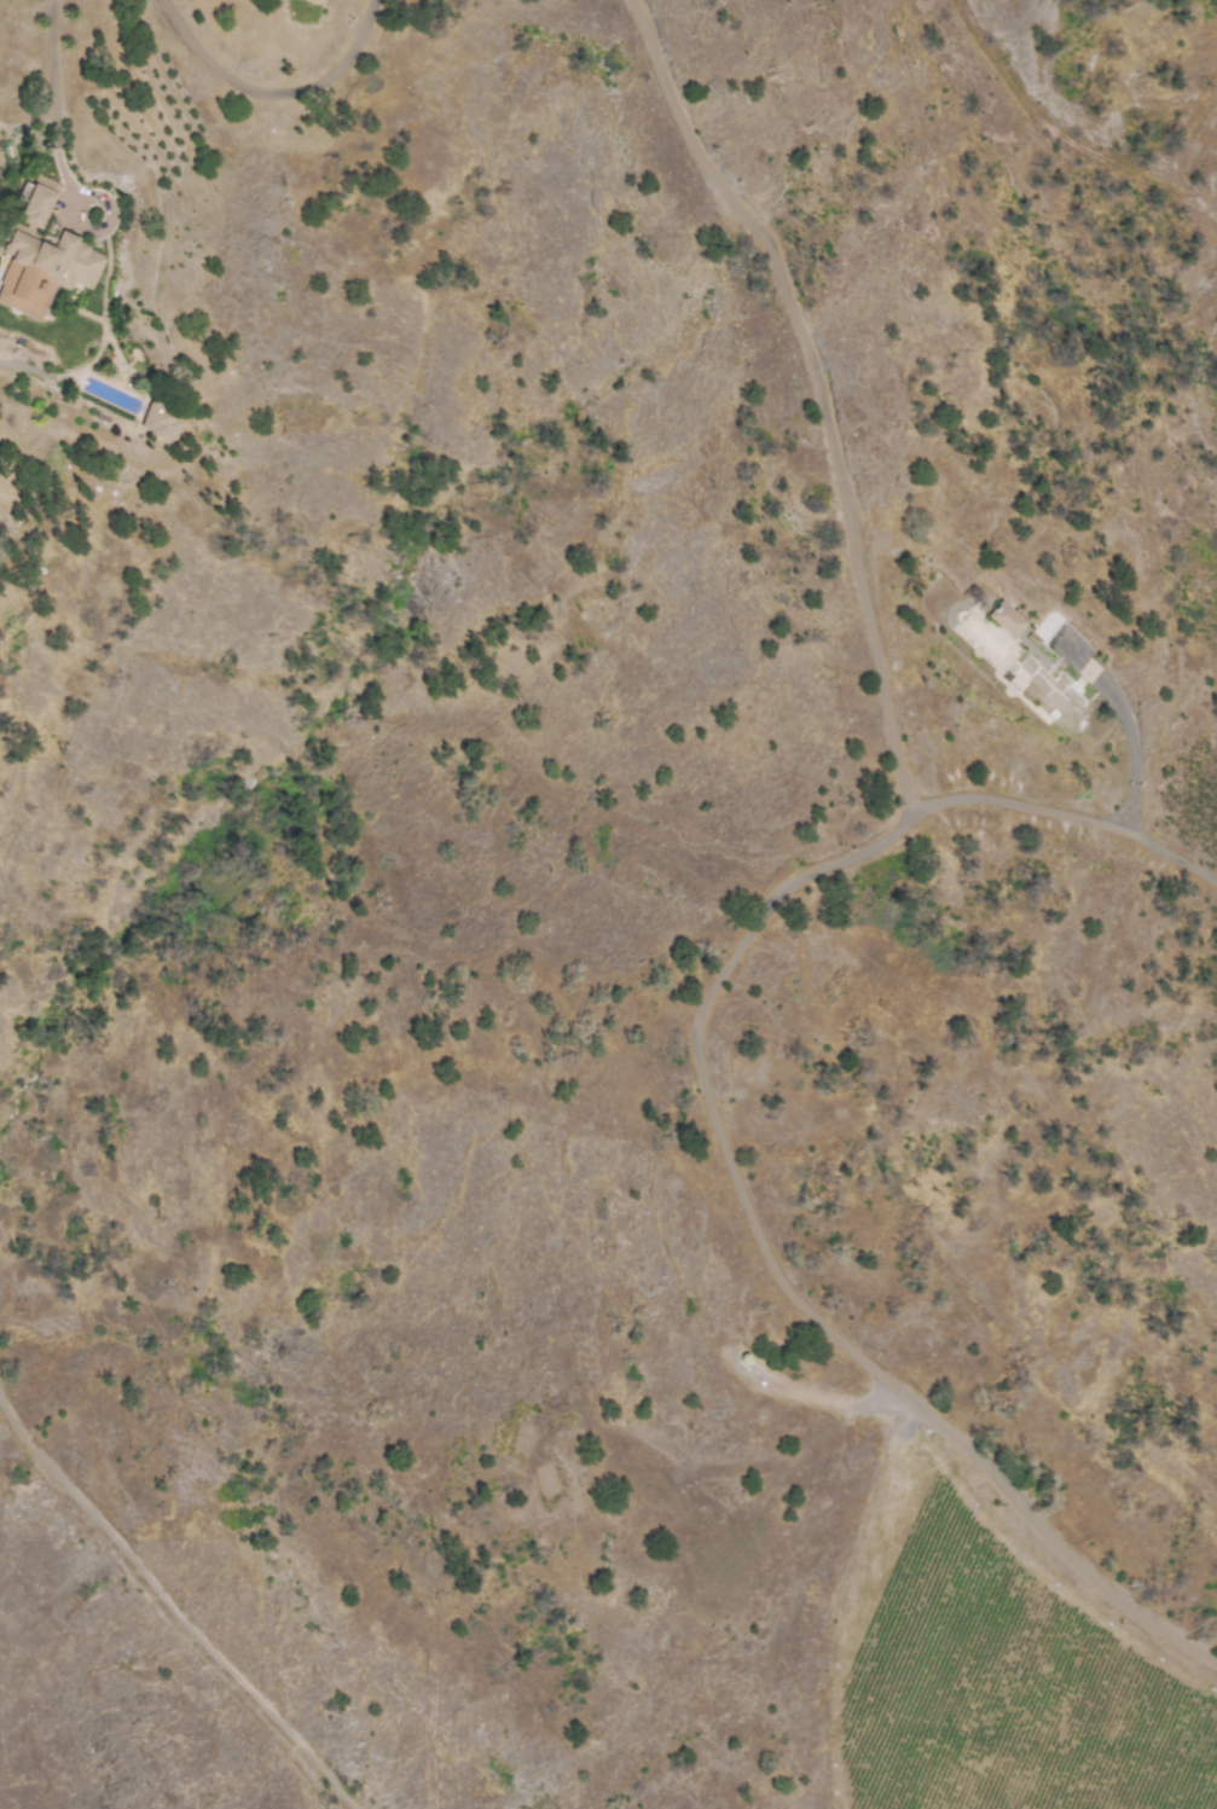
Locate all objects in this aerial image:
building: (313, 0)
road: (272, 94)
road: (56, 98)
building: (34, 201)
building: (44, 271)
road: (819, 389)
building: (1006, 620)
road: (1135, 754)
road: (719, 1132)
road: (173, 1605)

